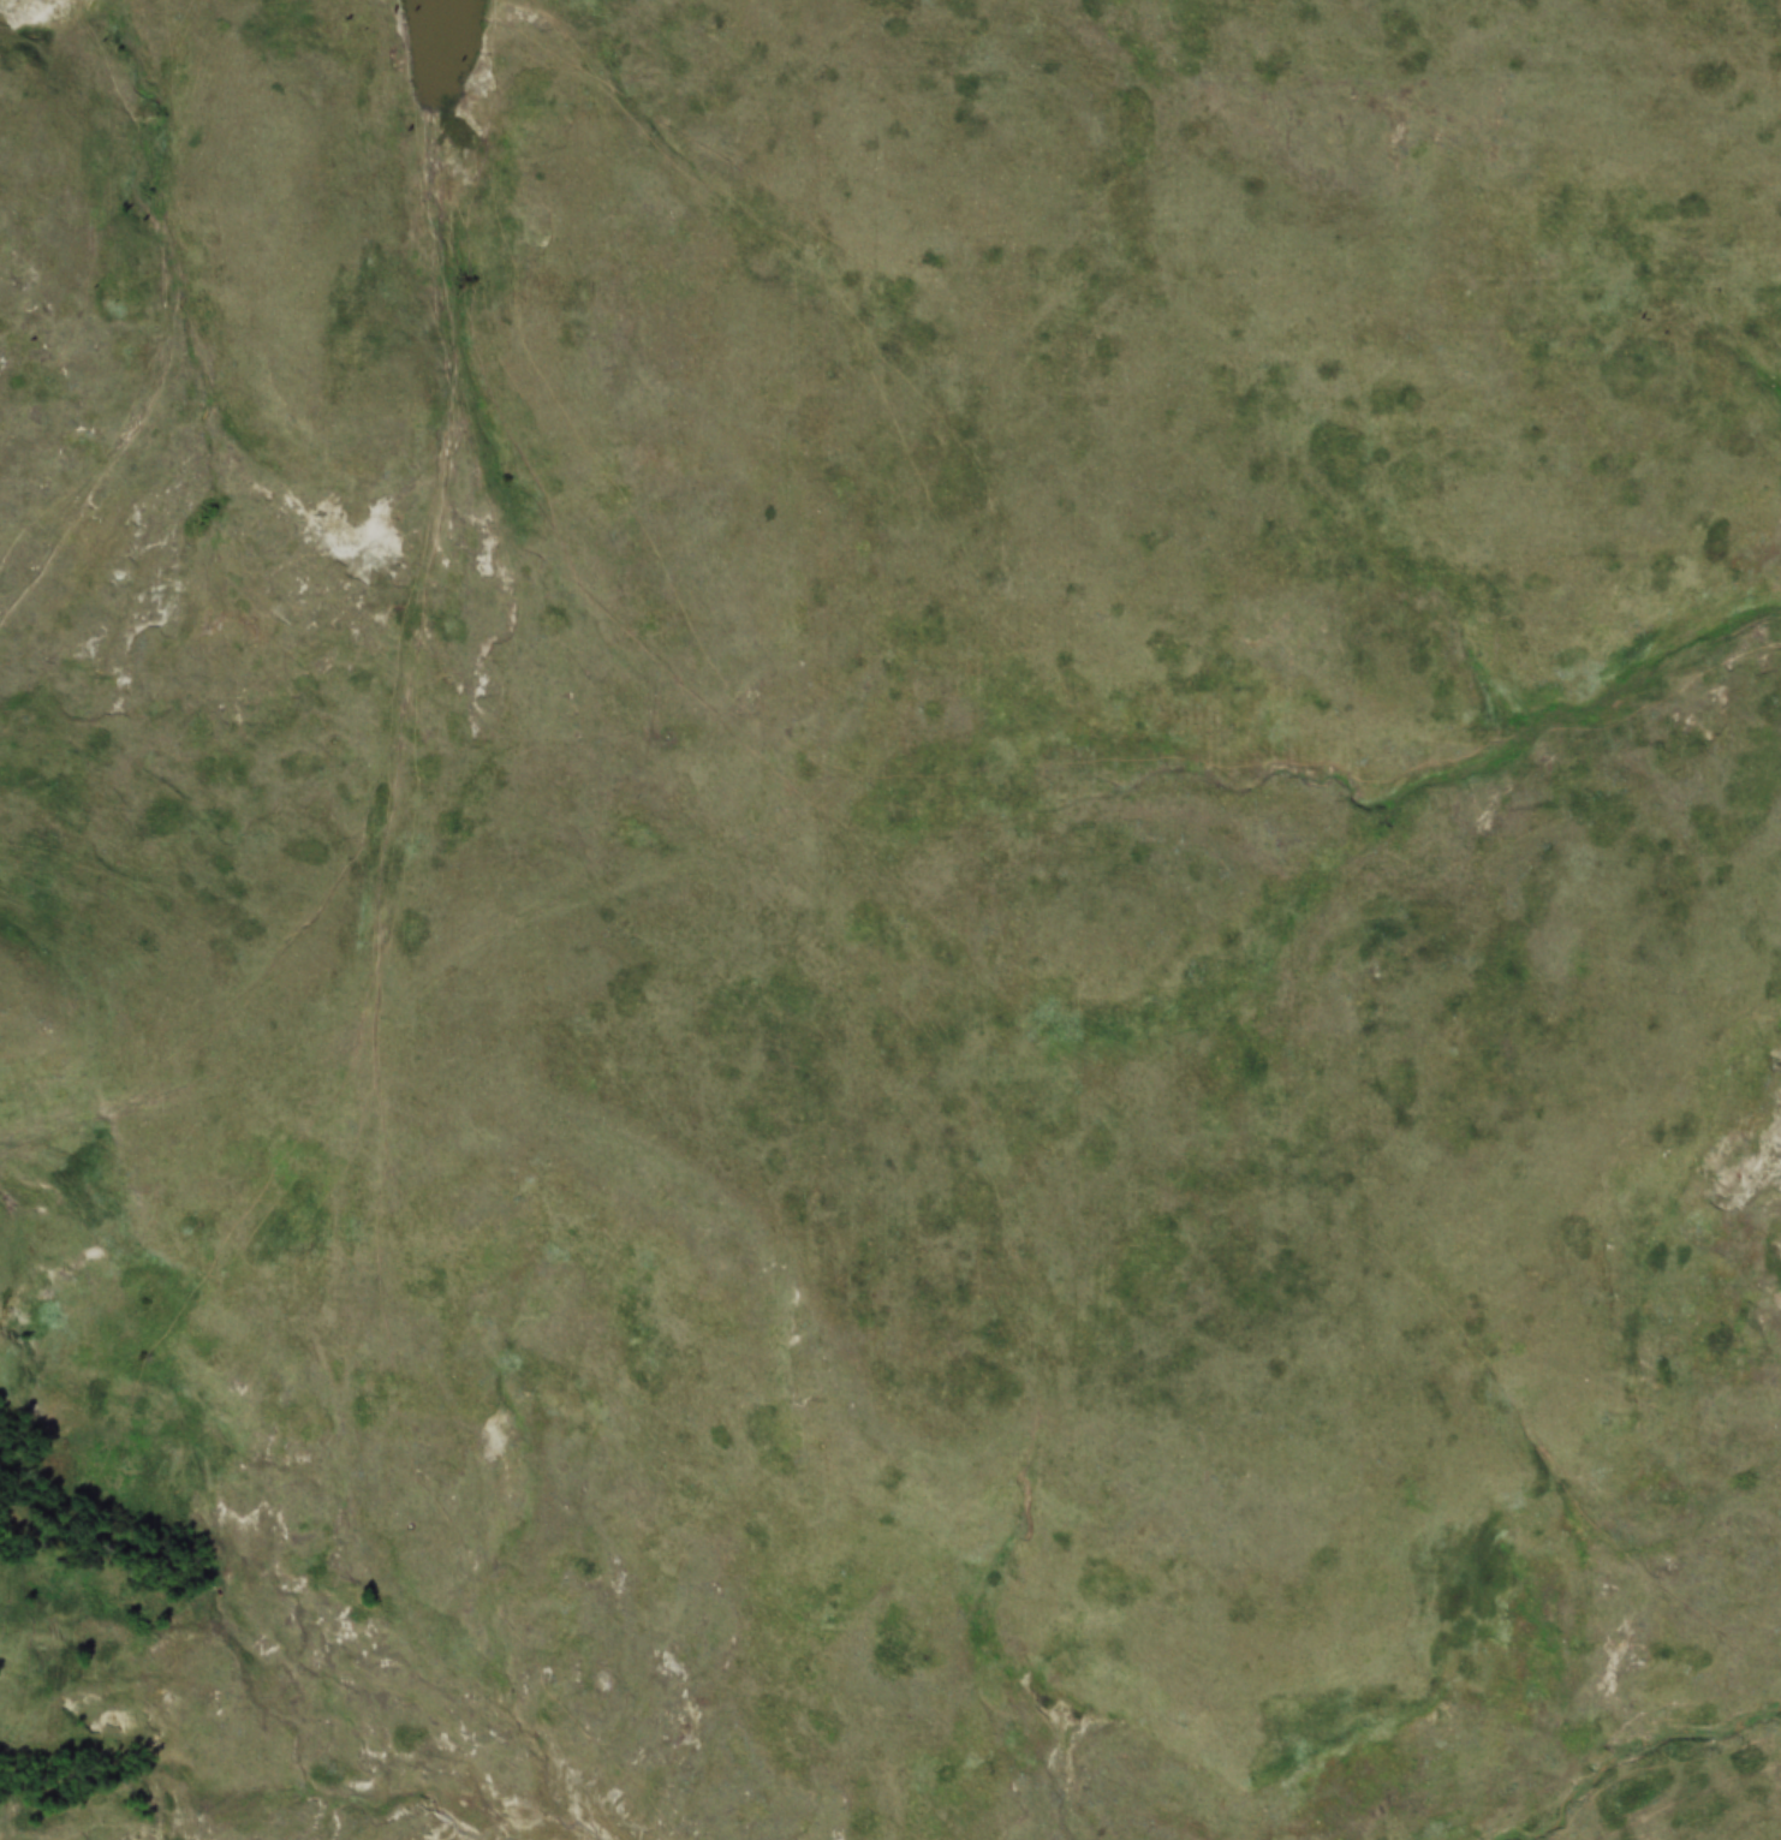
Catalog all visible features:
road: (662, 864)
road: (1726, 1738)

